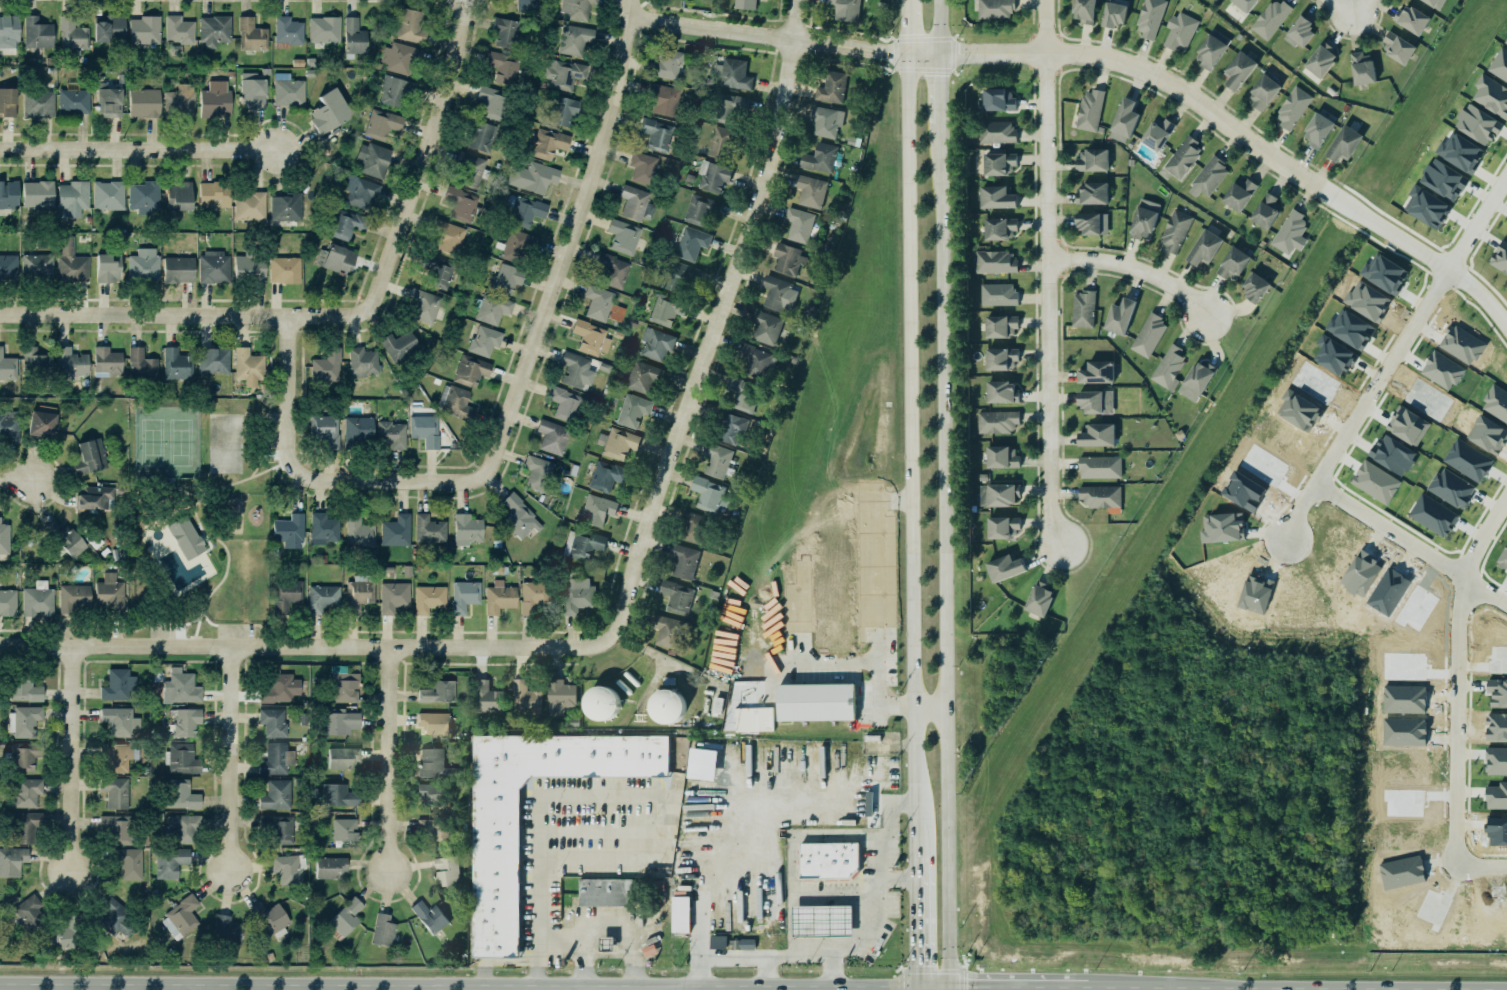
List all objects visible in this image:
building: (1215, 0)
building: (1435, 3)
building: (1245, 4)
building: (527, 5)
building: (747, 6)
building: (574, 8)
building: (846, 9)
building: (995, 9)
building: (1084, 11)
building: (1114, 14)
road: (1347, 16)
building: (1150, 17)
building: (1271, 19)
building: (1412, 19)
building: (411, 26)
building: (107, 28)
road: (906, 28)
building: (324, 29)
road: (937, 29)
building: (144, 30)
building: (178, 30)
building: (214, 30)
building: (504, 31)
building: (1180, 31)
building: (34, 32)
building: (1300, 32)
building: (289, 33)
building: (8, 34)
building: (72, 34)
building: (251, 35)
building: (574, 39)
building: (356, 40)
building: (1506, 44)
building: (1212, 48)
building: (1398, 48)
road: (1005, 56)
building: (400, 57)
building: (666, 64)
building: (1499, 64)
building: (503, 67)
building: (1362, 69)
building: (1239, 70)
building: (561, 72)
building: (732, 74)
building: (832, 88)
road: (938, 89)
building: (252, 90)
building: (288, 90)
building: (394, 91)
building: (1263, 92)
building: (1491, 95)
building: (212, 98)
building: (71, 99)
building: (664, 99)
building: (109, 100)
building: (180, 100)
building: (998, 100)
building: (490, 101)
building: (7, 102)
building: (144, 102)
building: (38, 103)
building: (727, 106)
building: (1293, 107)
building: (560, 110)
building: (1090, 110)
building: (329, 111)
building: (1124, 121)
building: (379, 123)
building: (828, 124)
building: (1479, 124)
building: (1318, 130)
building: (997, 132)
building: (656, 133)
building: (1157, 133)
building: (481, 136)
building: (722, 142)
building: (546, 143)
building: (1344, 144)
road: (139, 150)
road: (429, 155)
building: (1183, 156)
building: (371, 158)
building: (820, 158)
building: (1092, 160)
building: (999, 164)
building: (642, 167)
building: (466, 168)
building: (530, 177)
building: (713, 177)
building: (1208, 177)
building: (1444, 179)
building: (360, 191)
building: (811, 192)
building: (107, 193)
building: (1093, 193)
building: (1239, 193)
building: (9, 194)
building: (214, 194)
building: (142, 195)
building: (179, 195)
building: (40, 196)
building: (73, 197)
building: (997, 197)
building: (459, 202)
road: (589, 202)
building: (633, 202)
building: (249, 205)
building: (286, 207)
building: (701, 209)
building: (524, 210)
building: (1267, 210)
building: (1144, 218)
building: (342, 221)
building: (1092, 223)
building: (797, 226)
building: (1000, 229)
building: (1175, 230)
building: (1290, 233)
building: (448, 236)
building: (623, 236)
building: (689, 243)
building: (518, 246)
building: (1205, 248)
building: (1500, 257)
building: (333, 258)
building: (787, 259)
building: (68, 261)
road: (1429, 261)
building: (996, 262)
building: (143, 263)
building: (1233, 264)
building: (247, 265)
building: (37, 266)
building: (211, 266)
building: (105, 267)
building: (10, 268)
building: (611, 268)
building: (178, 269)
building: (284, 269)
building: (437, 270)
road: (1131, 272)
road: (1046, 274)
building: (677, 276)
building: (507, 278)
road: (732, 287)
building: (1255, 288)
building: (779, 294)
building: (998, 294)
building: (598, 302)
building: (426, 305)
building: (491, 307)
building: (1083, 309)
building: (666, 310)
road: (186, 311)
building: (1120, 316)
building: (1001, 326)
building: (768, 328)
building: (1149, 335)
building: (591, 337)
building: (482, 340)
building: (657, 343)
building: (399, 345)
building: (754, 357)
road: (293, 358)
building: (33, 359)
building: (1001, 359)
building: (69, 361)
building: (107, 361)
building: (363, 362)
building: (139, 364)
building: (214, 364)
building: (176, 365)
building: (246, 365)
building: (1169, 366)
building: (7, 367)
building: (327, 368)
building: (470, 370)
building: (576, 370)
building: (1097, 372)
building: (640, 376)
building: (1196, 381)
building: (1001, 392)
building: (743, 394)
building: (455, 402)
building: (1096, 402)
building: (564, 403)
building: (633, 410)
building: (997, 421)
building: (42, 422)
building: (1408, 425)
building: (9, 426)
building: (730, 428)
parking lot: (271, 429)
building: (325, 429)
building: (358, 429)
building: (425, 430)
building: (392, 434)
building: (1098, 435)
building: (550, 436)
road: (1338, 440)
park: (164, 441)
park: (223, 441)
building: (619, 444)
road: (261, 445)
building: (87, 456)
building: (1002, 457)
road: (278, 459)
building: (717, 460)
road: (276, 463)
road: (280, 465)
building: (1100, 467)
road: (262, 470)
building: (538, 472)
road: (280, 476)
building: (605, 476)
road: (910, 477)
road: (18, 479)
road: (402, 480)
building: (1376, 482)
road: (222, 485)
road: (176, 487)
building: (1452, 488)
building: (999, 495)
building: (92, 496)
building: (1101, 496)
building: (709, 497)
road: (1298, 508)
building: (594, 509)
park: (198, 514)
road: (194, 515)
building: (521, 518)
building: (690, 526)
building: (1003, 527)
building: (324, 528)
building: (467, 529)
building: (181, 530)
building: (397, 530)
building: (289, 531)
building: (431, 532)
building: (358, 534)
road: (196, 536)
building: (63, 537)
building: (3, 538)
building: (583, 544)
road: (941, 552)
building: (1503, 559)
building: (682, 560)
road: (224, 567)
building: (1004, 567)
building: (110, 592)
building: (287, 596)
building: (578, 596)
building: (73, 597)
building: (320, 597)
building: (497, 597)
building: (677, 597)
road: (1479, 597)
building: (532, 598)
building: (362, 599)
building: (464, 599)
building: (38, 600)
building: (394, 600)
building: (429, 601)
building: (8, 602)
road: (877, 602)
road: (199, 612)
road: (205, 619)
road: (159, 623)
road: (234, 623)
road: (195, 624)
road: (261, 629)
building: (666, 630)
parking lot: (161, 631)
parking lot: (233, 631)
road: (190, 635)
road: (196, 635)
road: (203, 645)
road: (343, 645)
road: (213, 657)
road: (802, 664)
building: (118, 685)
building: (276, 688)
building: (180, 689)
building: (345, 689)
building: (24, 690)
building: (438, 691)
building: (558, 695)
building: (525, 697)
building: (487, 698)
building: (816, 702)
building: (602, 703)
building: (667, 706)
road: (928, 709)
road: (878, 713)
building: (119, 721)
building: (271, 721)
building: (186, 722)
building: (336, 722)
building: (434, 722)
building: (26, 723)
road: (1443, 752)
road: (72, 755)
building: (115, 755)
road: (232, 757)
building: (343, 757)
road: (389, 758)
building: (27, 759)
building: (276, 759)
building: (184, 761)
building: (433, 763)
building: (27, 791)
building: (115, 791)
building: (182, 794)
building: (276, 794)
building: (337, 794)
road: (605, 795)
building: (432, 797)
building: (869, 803)
building: (24, 827)
building: (184, 827)
building: (117, 828)
building: (277, 828)
building: (436, 828)
building: (344, 829)
road: (884, 840)
road: (737, 842)
building: (12, 860)
building: (829, 860)
building: (170, 861)
building: (129, 863)
building: (329, 867)
building: (289, 868)
building: (447, 870)
building: (496, 875)
building: (606, 892)
building: (660, 892)
road: (804, 897)
building: (30, 911)
building: (681, 914)
building: (344, 916)
building: (430, 916)
building: (181, 917)
building: (114, 918)
building: (269, 918)
building: (822, 921)
gas station: (823, 921)
building: (226, 929)
road: (610, 929)
building: (383, 930)
building: (67, 934)
road: (915, 941)
building: (718, 942)
building: (606, 943)
building: (742, 944)
road: (797, 953)
road: (582, 956)
road: (498, 964)
road: (831, 968)
road: (765, 969)
traffic signals: (916, 983)
road: (934, 983)
road: (458, 984)
traffic signals: (953, 984)
road: (1012, 984)
road: (1097, 985)
road: (916, 986)
road: (1315, 986)
road: (582, 987)
road: (631, 987)
road: (952, 987)

